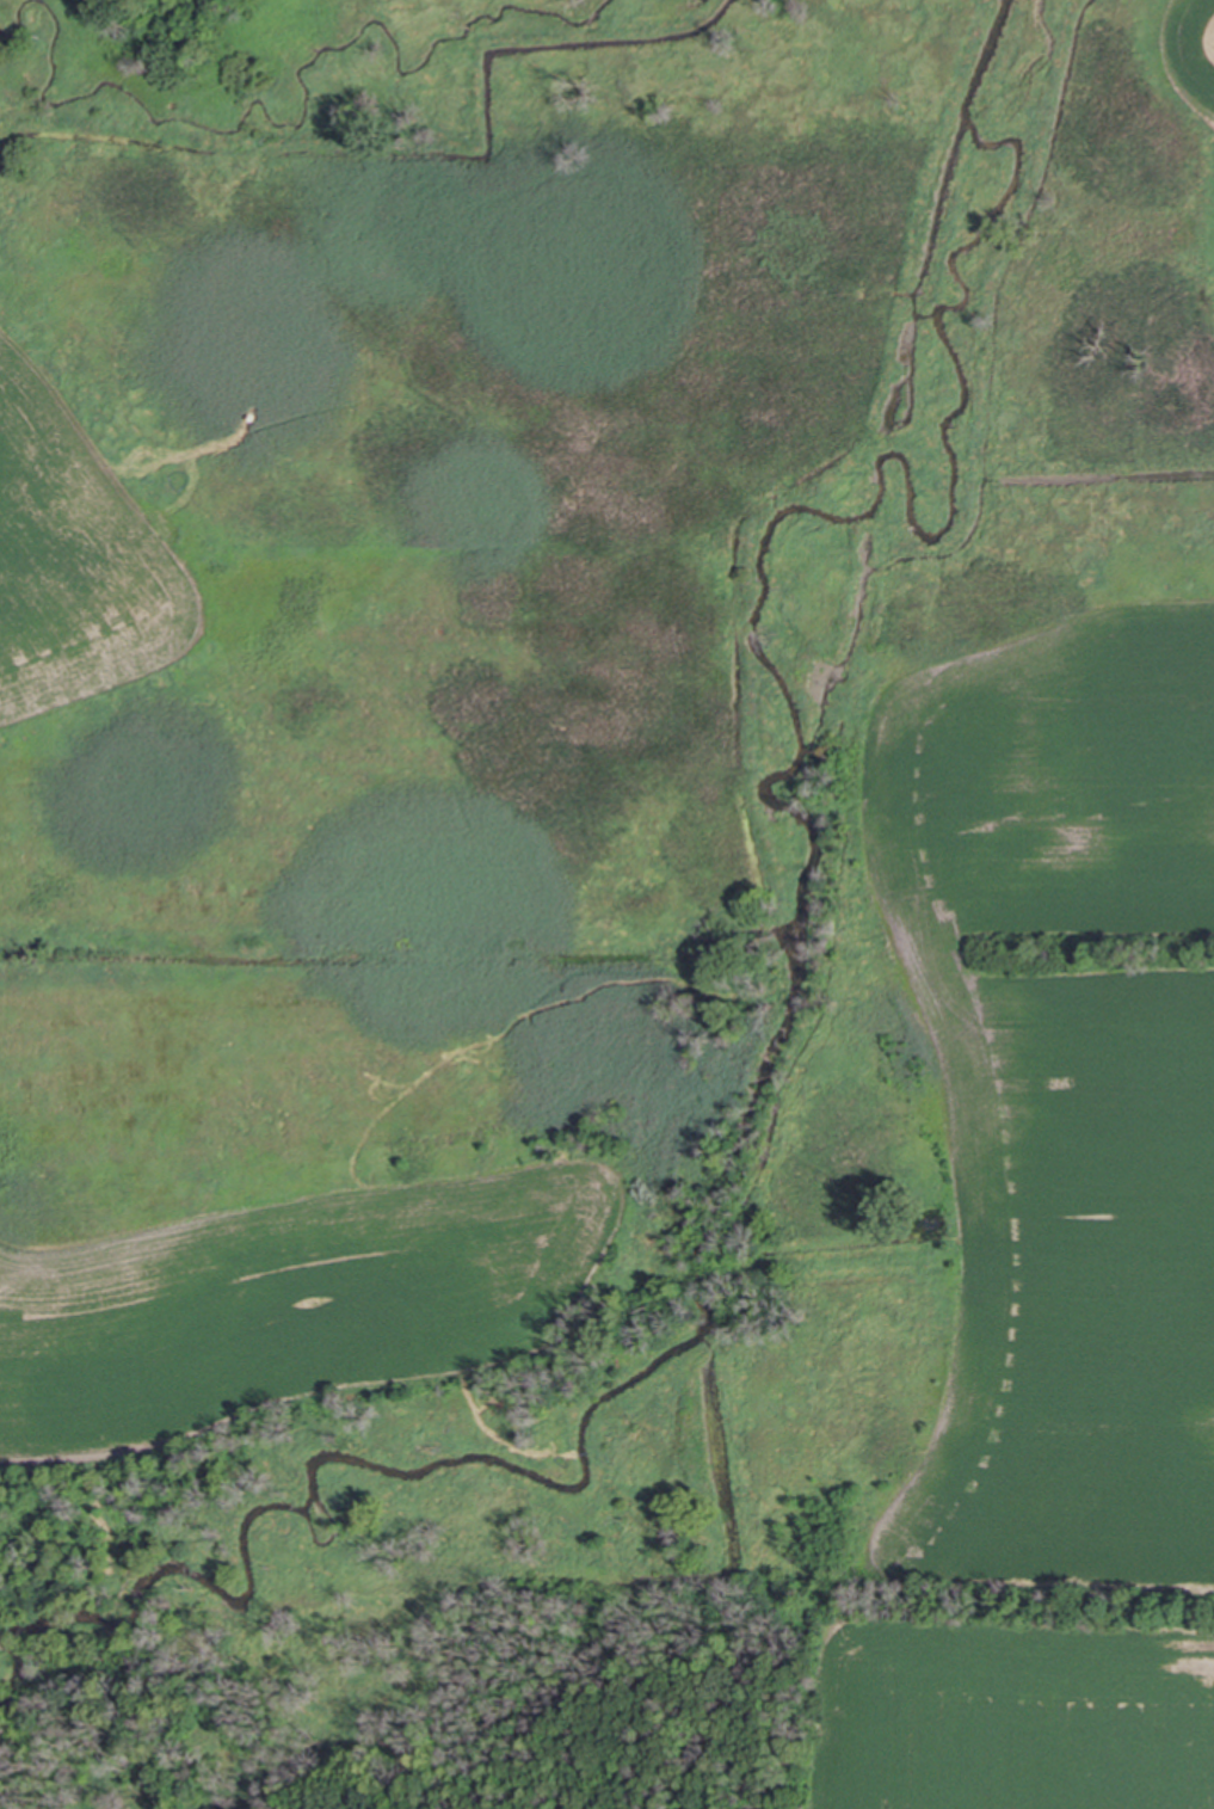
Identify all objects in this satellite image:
crop: (1190, 50)
crop: (75, 556)
crop: (1056, 1225)
crop: (291, 1306)

